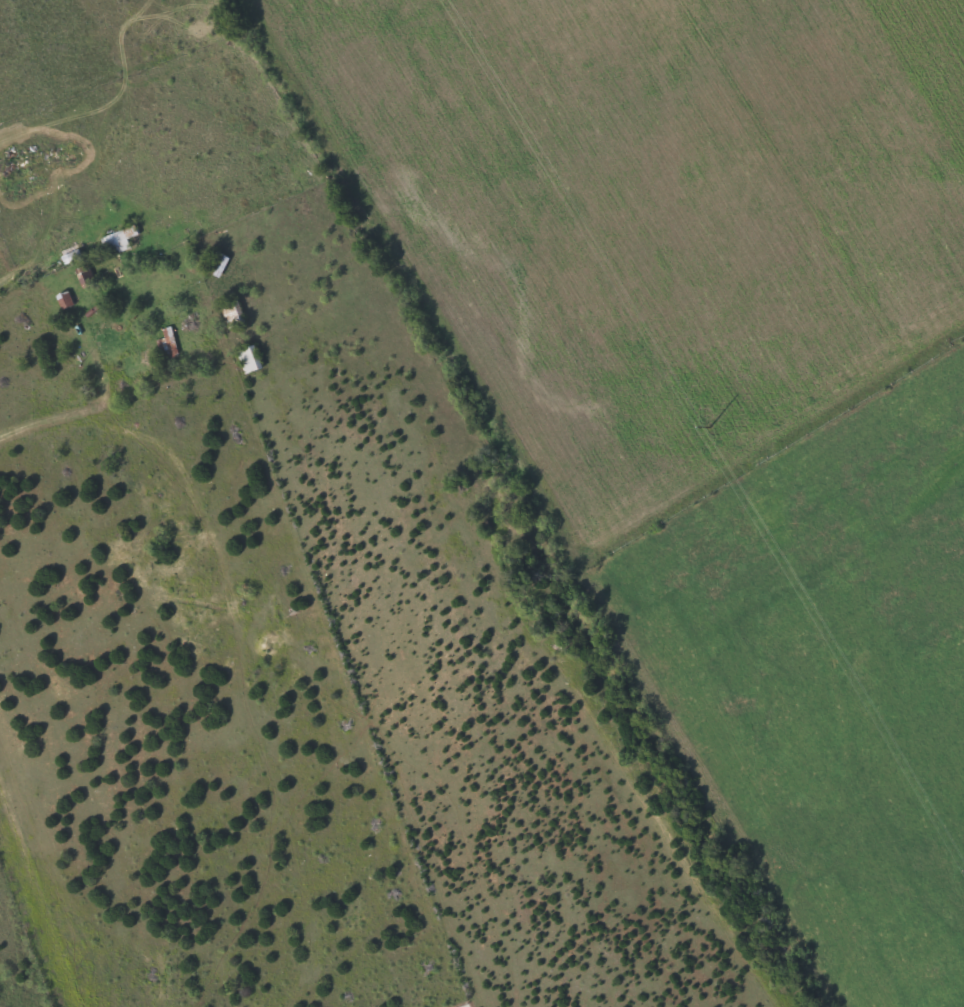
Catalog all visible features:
building: (117, 239)
building: (216, 263)
building: (230, 313)
building: (247, 357)
power tower: (709, 426)
road: (26, 438)
road: (275, 569)

